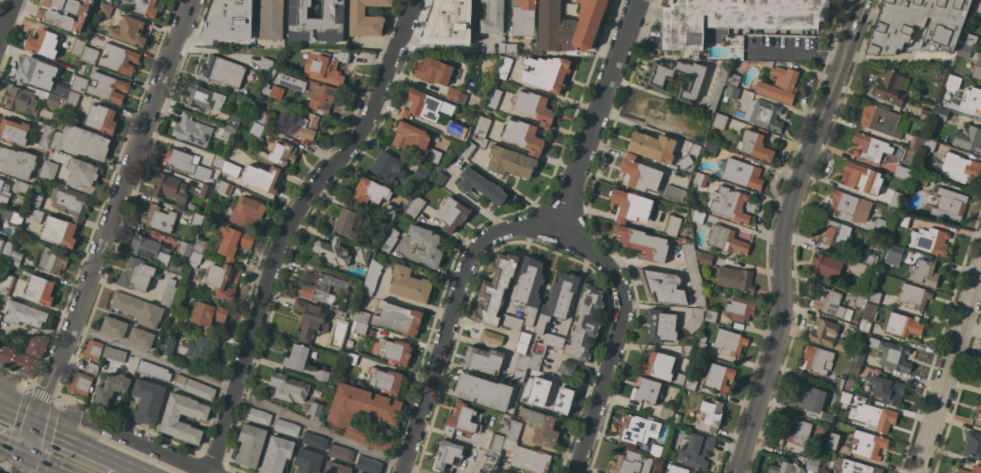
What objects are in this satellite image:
building: (107, 0)
building: (976, 6)
building: (144, 7)
building: (105, 9)
building: (64, 13)
road: (858, 16)
building: (493, 17)
building: (522, 17)
road: (6, 18)
building: (365, 18)
building: (734, 18)
building: (270, 20)
building: (227, 21)
building: (316, 21)
building: (449, 22)
building: (569, 25)
building: (916, 26)
building: (128, 31)
building: (970, 40)
building: (42, 44)
building: (77, 46)
building: (501, 47)
building: (511, 48)
building: (964, 51)
road: (795, 54)
building: (89, 55)
building: (119, 59)
building: (265, 66)
building: (324, 66)
building: (504, 67)
building: (977, 69)
building: (221, 71)
building: (433, 71)
building: (36, 73)
building: (545, 73)
building: (272, 74)
building: (733, 79)
building: (656, 81)
building: (952, 81)
building: (78, 84)
building: (779, 84)
building: (107, 87)
building: (891, 87)
building: (60, 89)
building: (716, 89)
building: (273, 91)
building: (730, 92)
building: (311, 93)
building: (455, 95)
building: (203, 97)
building: (50, 98)
building: (493, 98)
building: (72, 99)
building: (20, 100)
building: (972, 100)
building: (426, 106)
building: (534, 107)
building: (653, 109)
building: (926, 114)
building: (766, 116)
building: (945, 116)
building: (262, 117)
building: (101, 118)
building: (868, 120)
building: (233, 121)
building: (720, 121)
building: (59, 124)
building: (306, 126)
building: (482, 126)
building: (256, 129)
building: (191, 130)
building: (13, 131)
building: (457, 133)
building: (227, 135)
building: (690, 135)
building: (410, 136)
building: (523, 136)
building: (46, 137)
building: (968, 139)
building: (80, 142)
building: (915, 143)
building: (482, 144)
building: (755, 145)
building: (929, 146)
building: (652, 147)
building: (871, 147)
building: (693, 149)
building: (709, 149)
building: (467, 150)
building: (281, 154)
building: (435, 156)
building: (684, 161)
building: (217, 162)
building: (510, 162)
building: (16, 163)
building: (186, 163)
building: (387, 166)
building: (230, 168)
building: (958, 168)
building: (48, 170)
building: (82, 172)
building: (903, 172)
building: (420, 173)
building: (739, 173)
building: (639, 174)
building: (261, 178)
building: (439, 178)
building: (862, 178)
building: (699, 179)
building: (919, 179)
building: (481, 186)
building: (168, 187)
building: (24, 188)
building: (223, 188)
building: (205, 190)
building: (4, 192)
building: (368, 193)
building: (673, 193)
building: (36, 199)
building: (896, 199)
building: (69, 202)
building: (729, 204)
building: (949, 205)
building: (630, 206)
building: (415, 207)
building: (849, 207)
road: (113, 210)
building: (390, 210)
building: (247, 212)
building: (34, 214)
building: (451, 214)
building: (698, 216)
building: (16, 218)
building: (159, 218)
building: (196, 219)
building: (903, 221)
building: (344, 224)
road: (287, 225)
building: (377, 225)
building: (671, 225)
building: (881, 228)
road: (951, 229)
road: (513, 230)
building: (59, 231)
building: (835, 233)
building: (389, 239)
building: (726, 240)
building: (929, 241)
building: (233, 243)
building: (643, 243)
building: (425, 245)
building: (200, 246)
building: (5, 249)
building: (148, 249)
building: (184, 249)
road: (782, 250)
building: (332, 251)
building: (891, 254)
building: (362, 255)
building: (704, 257)
building: (15, 258)
building: (690, 258)
building: (868, 258)
building: (194, 259)
building: (51, 261)
building: (824, 267)
building: (869, 272)
building: (925, 272)
building: (136, 274)
building: (371, 278)
building: (735, 279)
building: (219, 281)
building: (6, 284)
building: (409, 284)
building: (317, 285)
building: (529, 287)
building: (662, 287)
building: (494, 289)
building: (697, 289)
building: (39, 290)
building: (168, 293)
building: (874, 296)
building: (913, 296)
building: (557, 300)
building: (860, 302)
building: (829, 303)
building: (137, 309)
building: (739, 309)
building: (23, 313)
building: (341, 314)
building: (0, 315)
building: (207, 315)
building: (175, 316)
building: (710, 316)
building: (867, 316)
building: (396, 318)
building: (309, 320)
building: (694, 320)
building: (511, 321)
building: (360, 322)
building: (584, 323)
building: (737, 325)
building: (902, 325)
building: (660, 326)
building: (113, 327)
building: (823, 332)
road: (614, 334)
building: (140, 337)
building: (491, 337)
building: (553, 340)
building: (522, 342)
building: (729, 342)
building: (843, 343)
building: (700, 345)
building: (36, 346)
building: (166, 346)
building: (92, 350)
building: (197, 350)
building: (393, 351)
building: (685, 351)
building: (114, 355)
building: (536, 355)
building: (891, 355)
building: (297, 357)
building: (859, 357)
building: (350, 358)
building: (482, 360)
building: (816, 360)
building: (18, 361)
building: (658, 365)
building: (520, 367)
building: (92, 368)
building: (566, 368)
building: (855, 368)
building: (153, 371)
building: (321, 375)
building: (531, 376)
road: (950, 376)
building: (718, 377)
building: (679, 379)
building: (385, 380)
building: (80, 383)
building: (359, 383)
building: (837, 383)
building: (690, 384)
building: (111, 387)
building: (194, 388)
building: (288, 388)
building: (980, 388)
building: (887, 389)
building: (483, 391)
building: (537, 391)
building: (646, 391)
road: (244, 397)
building: (845, 397)
building: (552, 399)
building: (148, 400)
building: (812, 403)
road: (18, 404)
building: (978, 407)
building: (315, 409)
road: (18, 413)
building: (666, 413)
building: (362, 414)
building: (258, 416)
building: (709, 416)
building: (875, 417)
building: (170, 418)
building: (676, 418)
building: (980, 418)
traffic signals: (36, 421)
building: (460, 421)
building: (540, 426)
building: (286, 427)
building: (638, 429)
building: (513, 430)
building: (796, 430)
road: (122, 437)
road: (30, 440)
building: (314, 440)
road: (80, 441)
building: (832, 441)
building: (495, 442)
building: (868, 444)
building: (972, 444)
building: (250, 445)
building: (655, 450)
building: (696, 451)
building: (340, 452)
building: (447, 453)
road: (12, 454)
building: (276, 454)
building: (815, 455)
building: (527, 458)
building: (825, 459)
traffic signals: (25, 460)
building: (308, 461)
building: (630, 463)
building: (368, 465)
building: (811, 465)
road: (22, 466)
road: (40, 466)
road: (137, 467)
building: (857, 467)
building: (336, 468)
building: (785, 468)
building: (676, 469)
building: (976, 470)
building: (822, 471)

